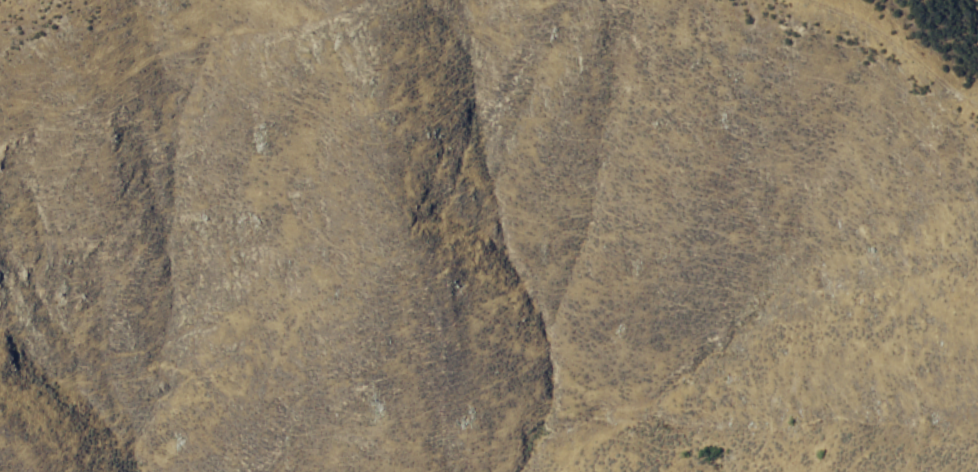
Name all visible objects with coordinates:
road: (87, 34)
road: (758, 81)

